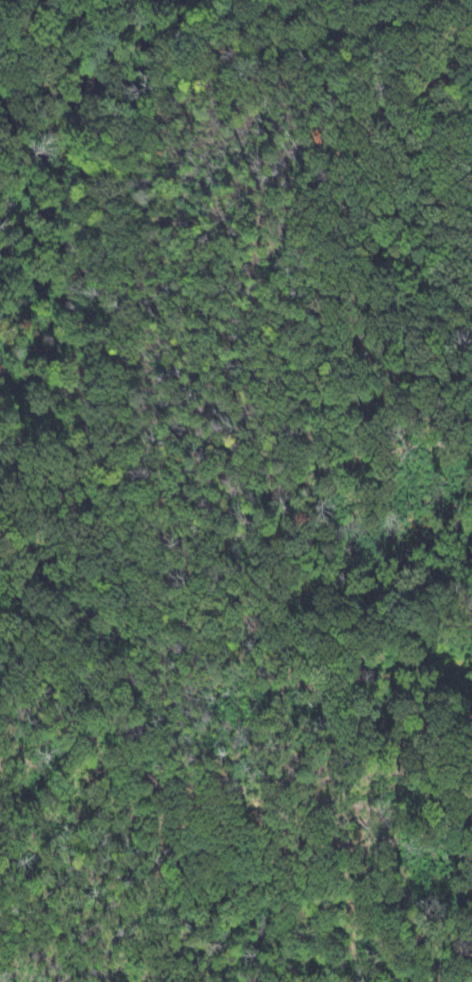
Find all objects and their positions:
park: (236, 491)
road: (128, 930)

